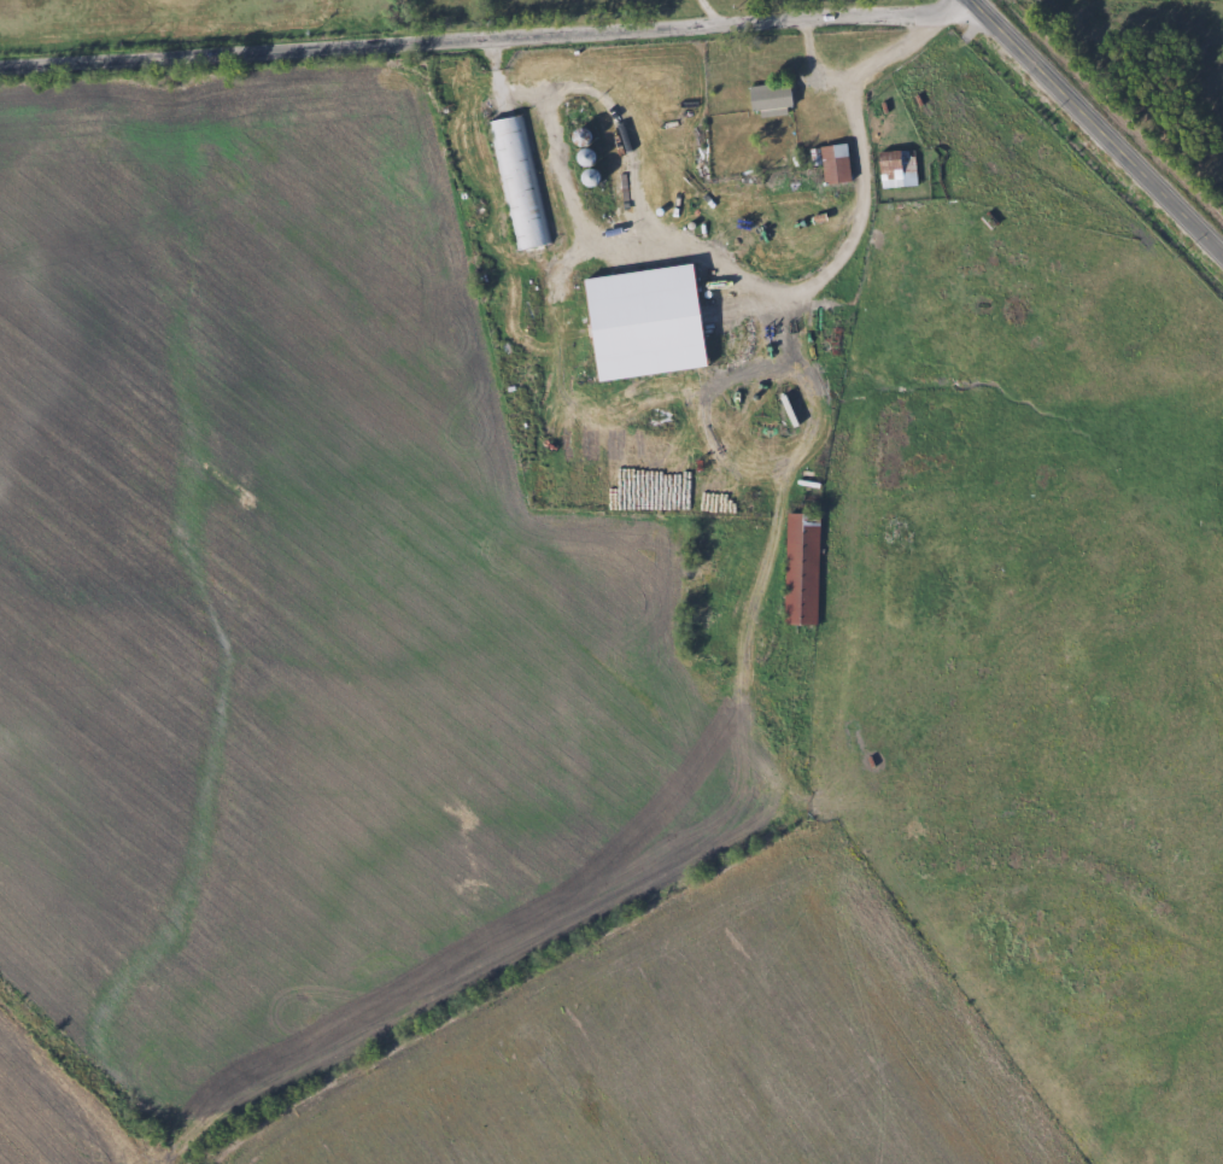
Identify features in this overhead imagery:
road: (713, 13)
road: (488, 41)
road: (860, 72)
building: (768, 96)
road: (1095, 127)
building: (833, 164)
building: (895, 169)
building: (517, 182)
road: (700, 257)
building: (893, 539)
building: (800, 568)
building: (890, 618)

